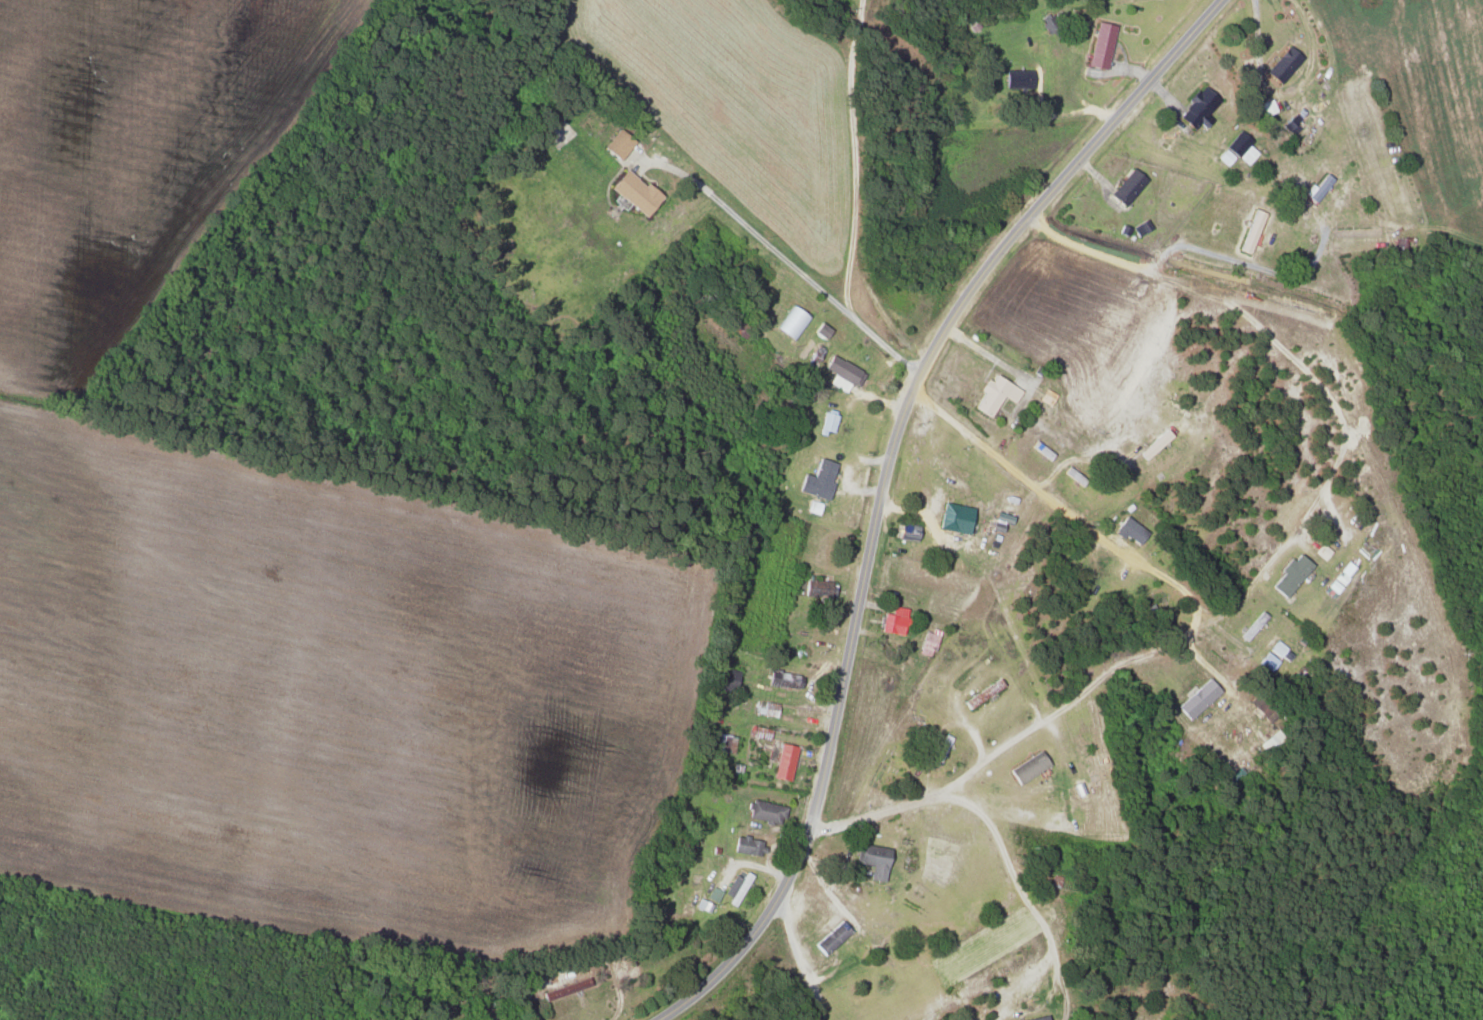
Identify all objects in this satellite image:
building: (1099, 45)
building: (1281, 64)
building: (1017, 78)
building: (1196, 107)
building: (616, 144)
building: (1236, 149)
building: (1125, 186)
building: (1316, 187)
road: (855, 189)
building: (632, 191)
building: (1250, 231)
road: (790, 262)
building: (841, 373)
building: (993, 394)
building: (1045, 396)
building: (825, 423)
building: (1153, 444)
building: (816, 479)
road: (881, 485)
road: (1061, 504)
building: (953, 517)
building: (1129, 530)
building: (1289, 575)
building: (818, 588)
building: (892, 620)
building: (1280, 651)
building: (1267, 661)
building: (724, 678)
building: (779, 679)
building: (1196, 698)
road: (1068, 701)
building: (765, 708)
building: (723, 742)
building: (782, 761)
building: (1027, 767)
building: (764, 811)
building: (745, 845)
building: (873, 860)
road: (1014, 876)
building: (734, 887)
building: (830, 937)
building: (1037, 1018)

